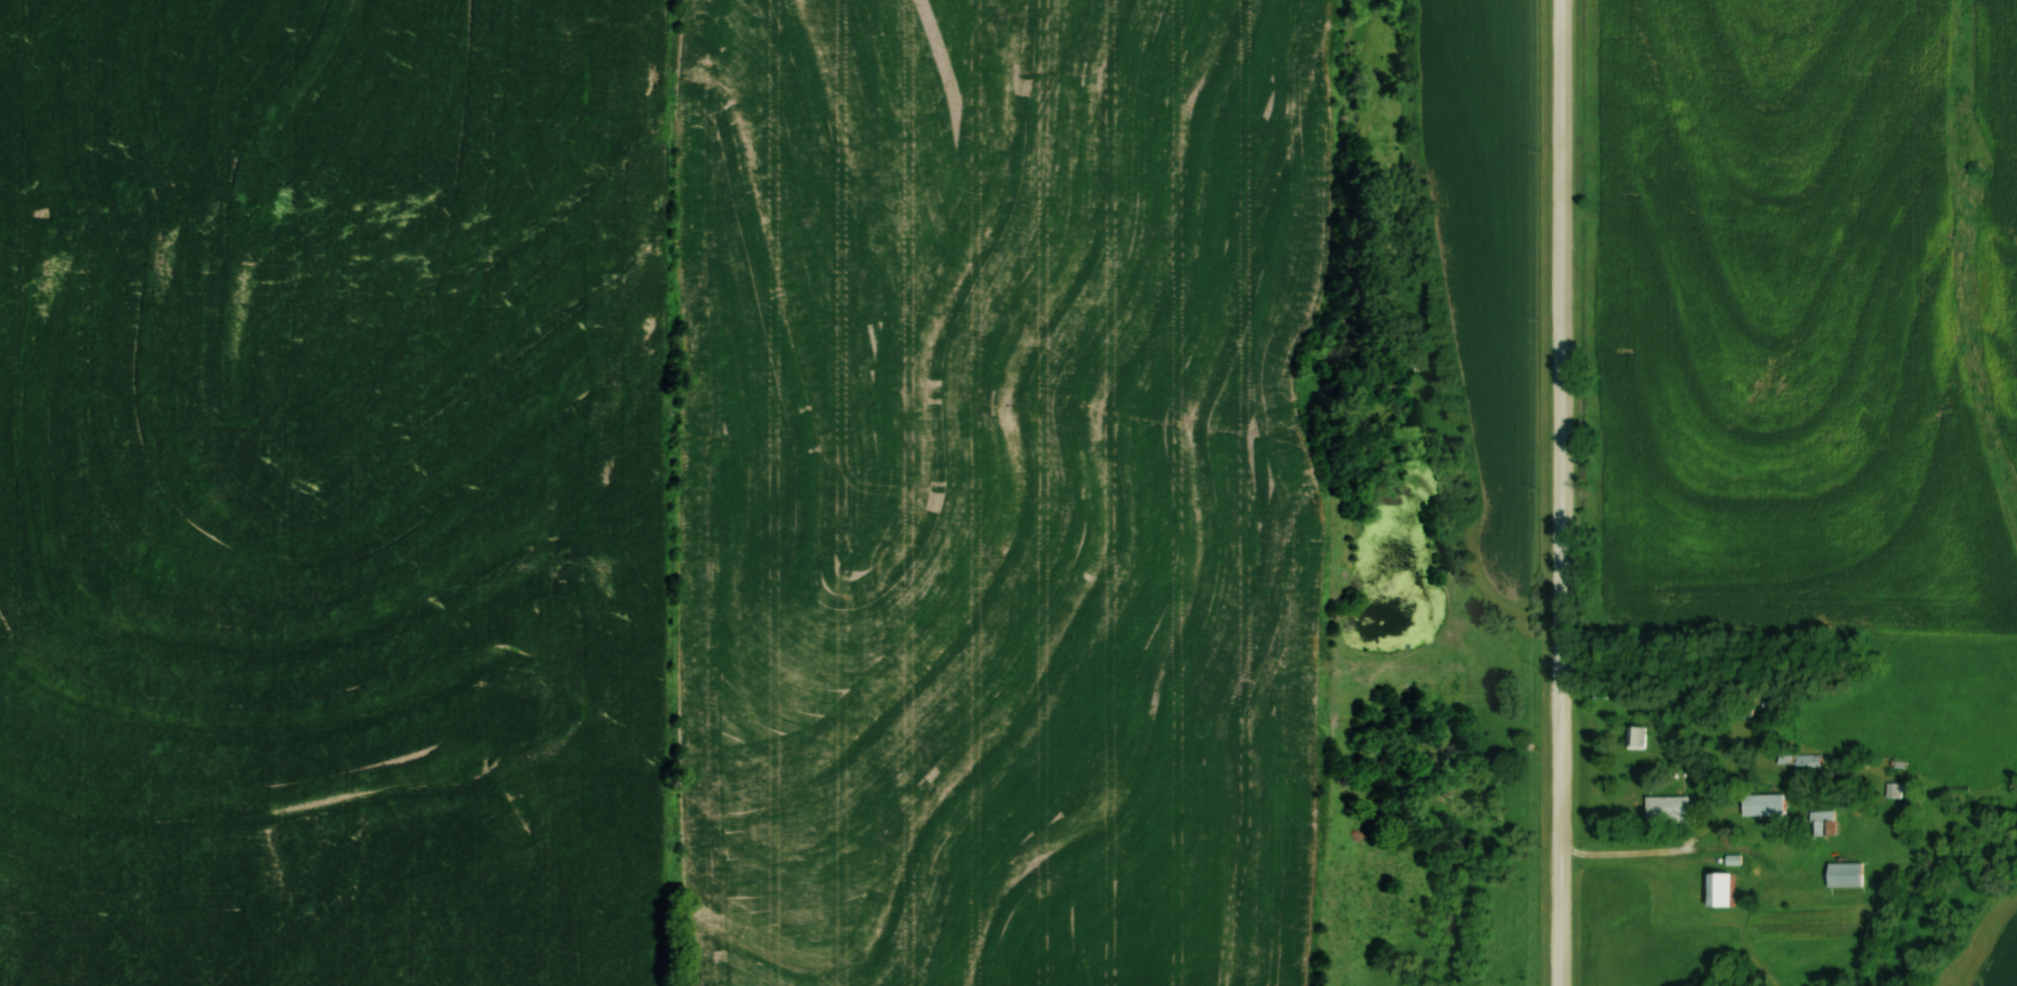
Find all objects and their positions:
road: (1563, 493)
building: (1634, 736)
building: (1797, 759)
building: (1891, 789)
building: (1760, 804)
building: (1668, 808)
building: (1820, 822)
building: (1842, 874)
building: (1715, 889)

